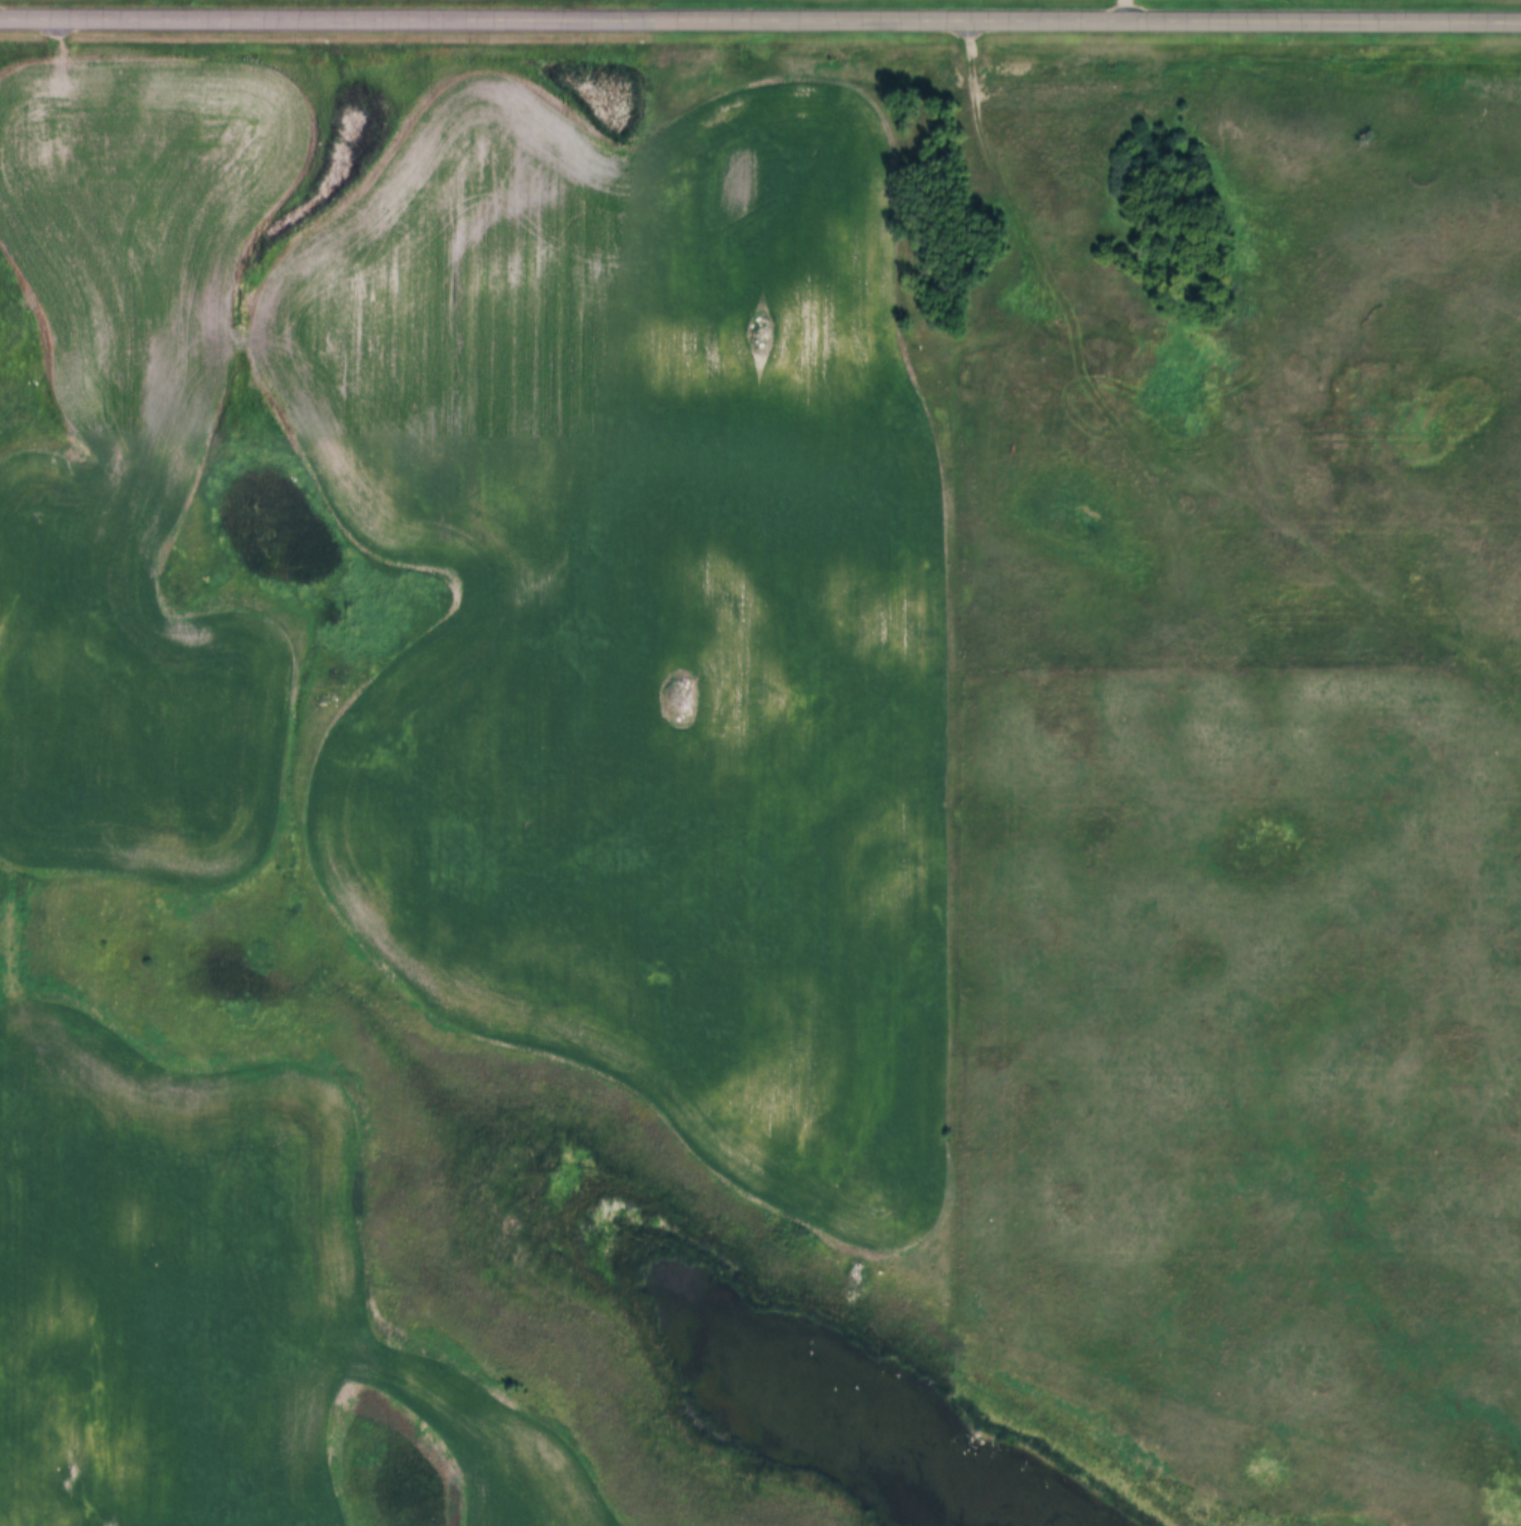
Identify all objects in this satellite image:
road: (760, 18)

